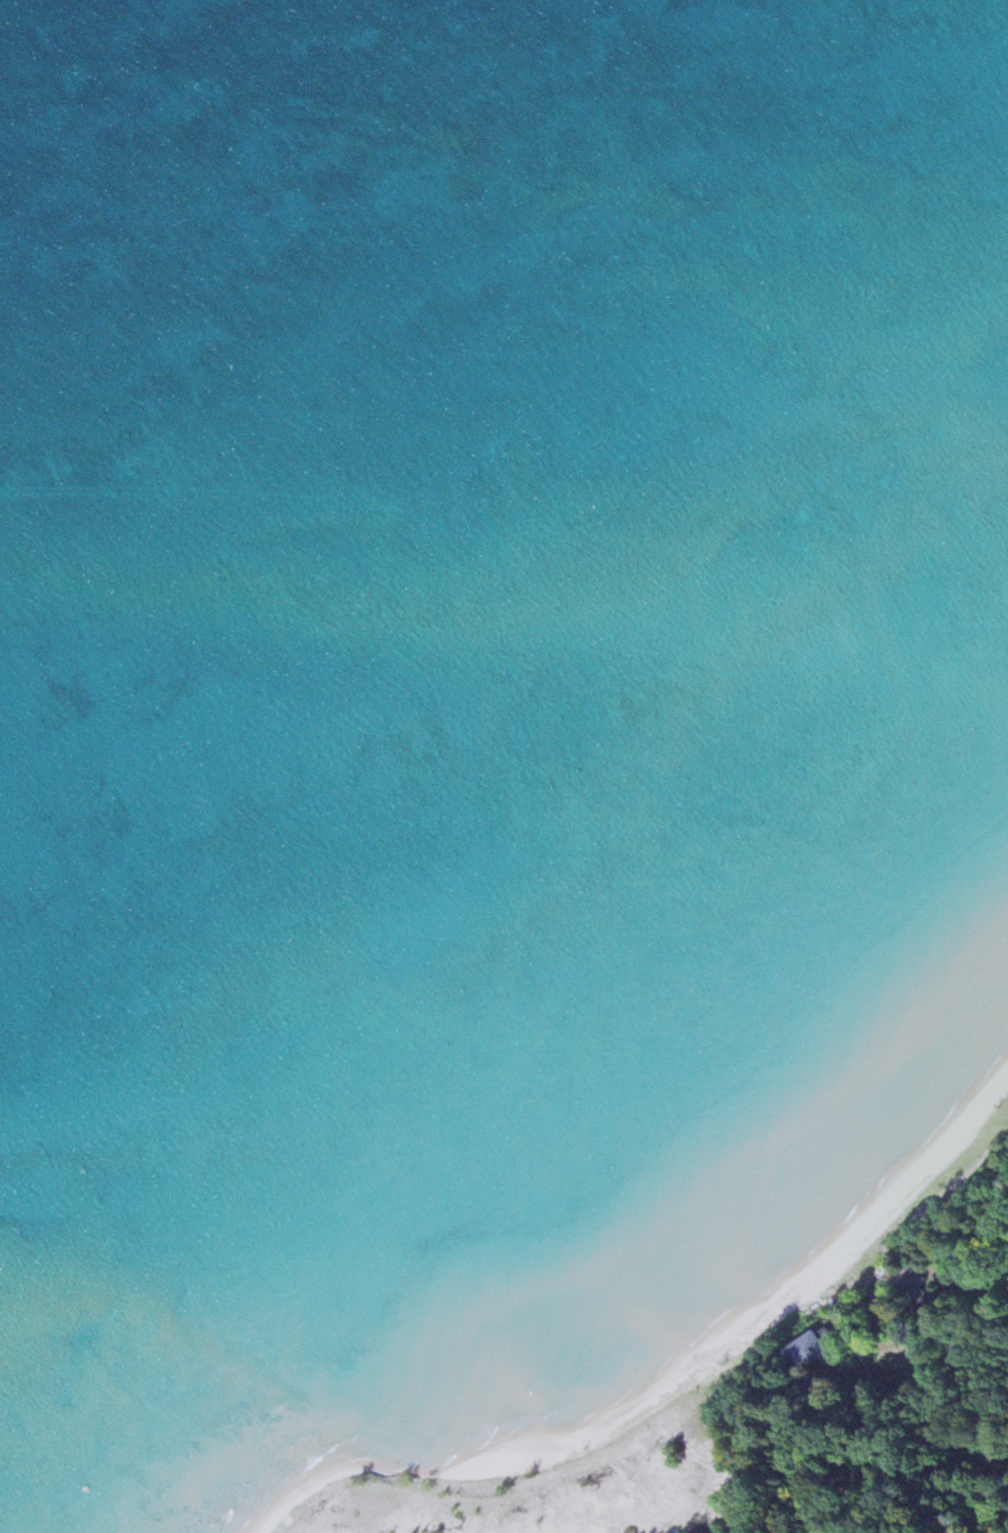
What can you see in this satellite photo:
building: (911, 1282)
road: (1007, 1284)
building: (814, 1349)
road: (951, 1392)

